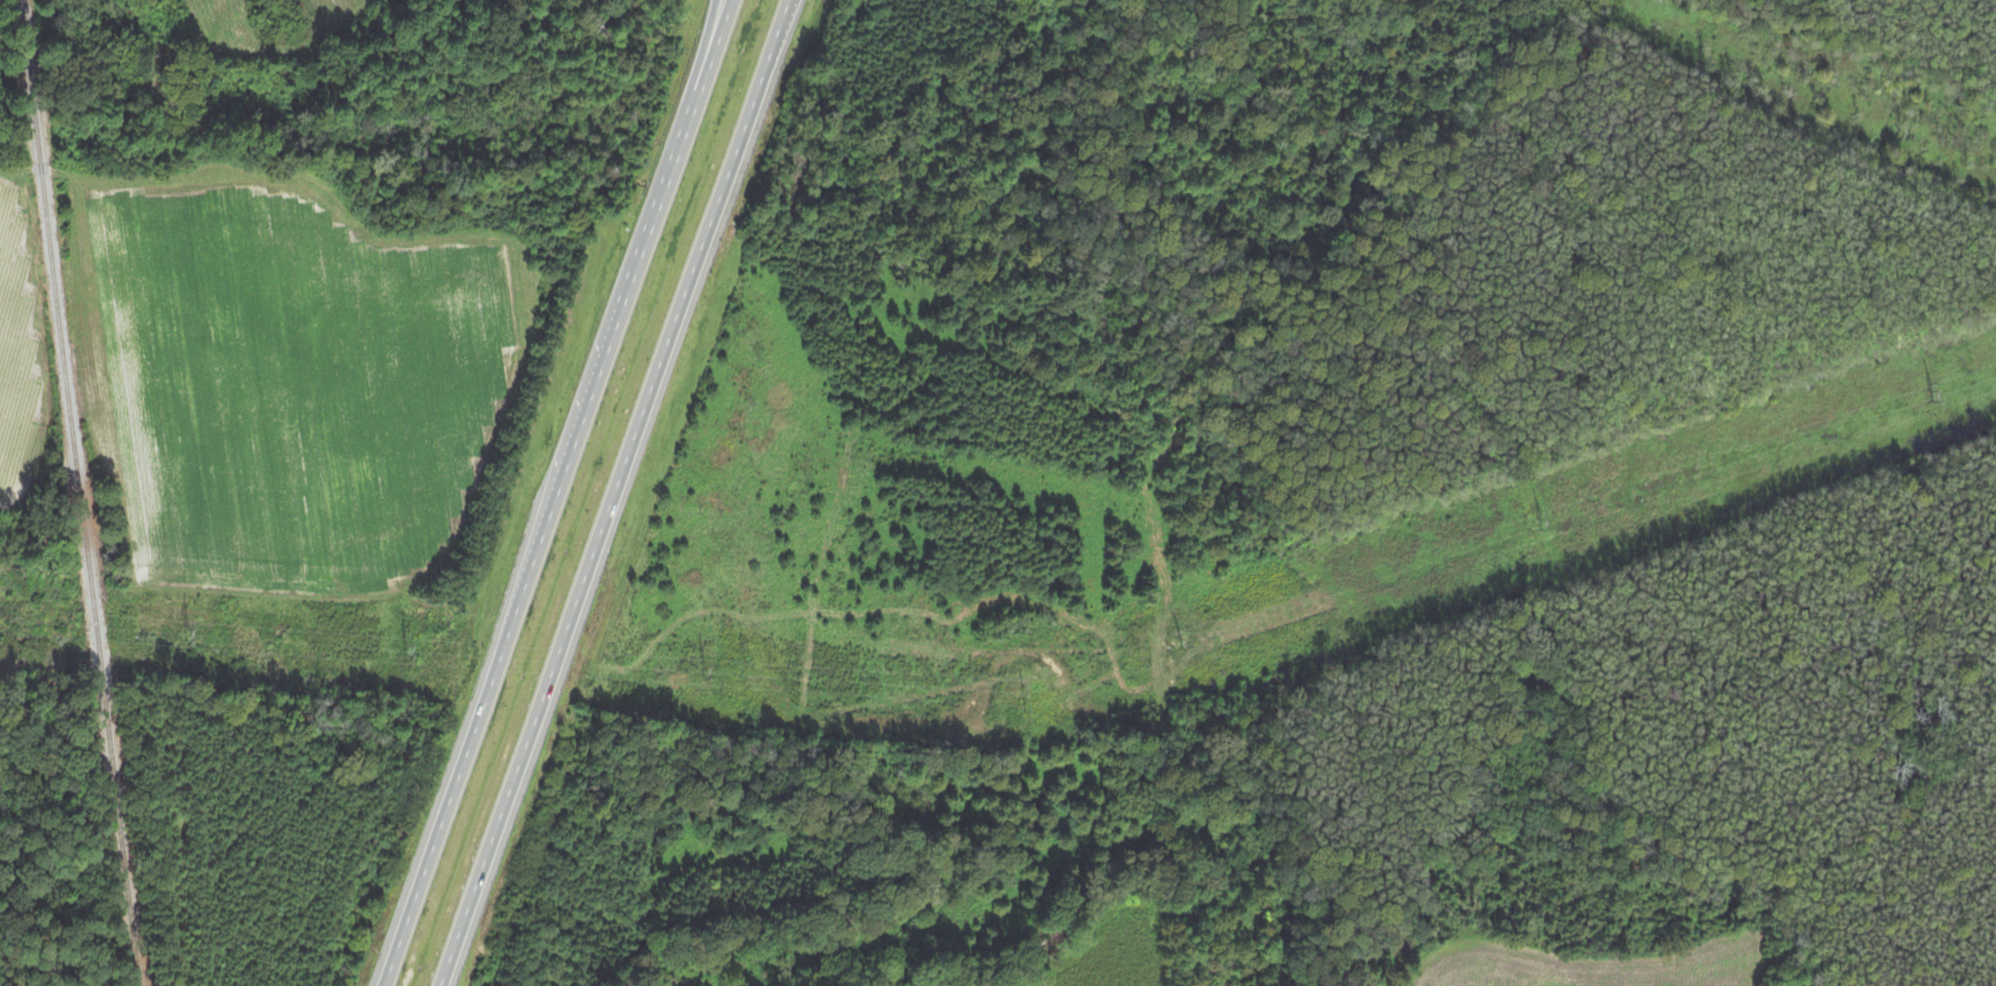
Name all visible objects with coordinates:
road: (713, 27)
road: (720, 27)
road: (693, 256)
power tower: (1935, 399)
railway: (79, 493)
road: (544, 520)
power tower: (1536, 527)
power tower: (178, 627)
power tower: (402, 644)
power tower: (700, 671)
power tower: (1021, 700)
road: (521, 751)

